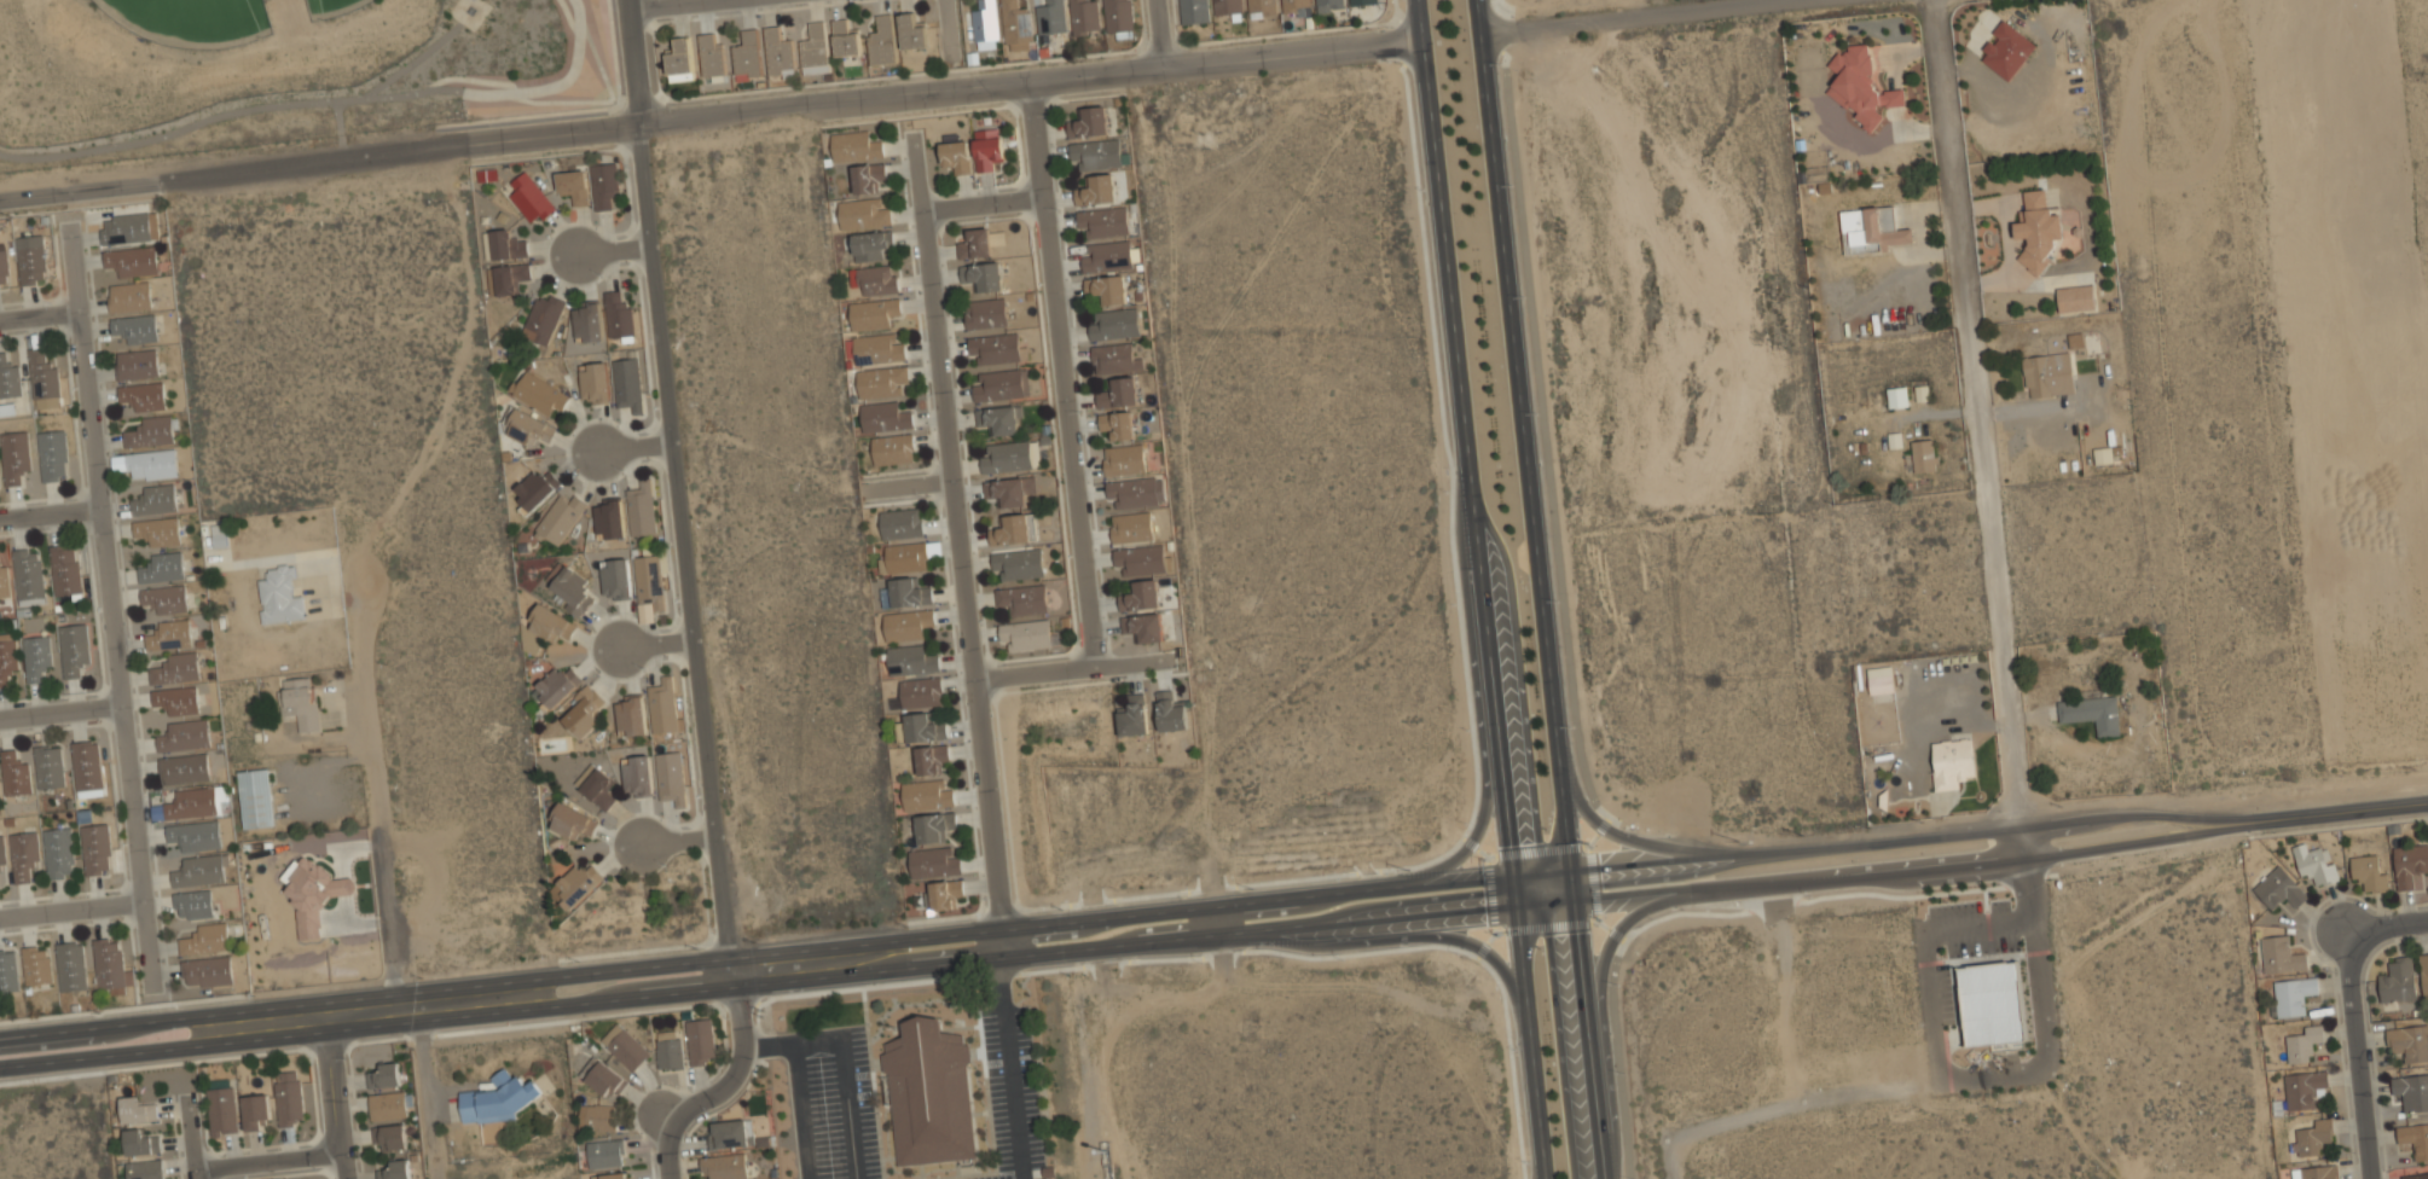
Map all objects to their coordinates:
building: (1362, 1)
road: (683, 5)
building: (1329, 5)
building: (1227, 6)
building: (1262, 6)
building: (1294, 6)
park: (331, 7)
building: (1194, 11)
road: (954, 16)
building: (1118, 16)
building: (1049, 17)
building: (1084, 17)
road: (1644, 17)
park: (191, 18)
building: (985, 22)
building: (1016, 24)
building: (912, 30)
road: (1164, 33)
building: (845, 37)
building: (882, 40)
building: (815, 48)
building: (2006, 48)
building: (778, 52)
building: (712, 56)
building: (747, 56)
building: (679, 59)
road: (634, 62)
park: (278, 63)
building: (1861, 83)
road: (324, 103)
road: (709, 116)
building: (1090, 121)
building: (854, 146)
building: (987, 146)
building: (956, 153)
building: (1095, 153)
building: (865, 175)
building: (573, 184)
building: (604, 185)
building: (1096, 188)
building: (529, 197)
road: (984, 204)
building: (864, 213)
building: (1103, 221)
building: (124, 227)
building: (1873, 228)
building: (2039, 228)
building: (975, 243)
building: (870, 244)
building: (506, 245)
road: (615, 250)
building: (1107, 256)
building: (31, 259)
building: (132, 261)
building: (4, 268)
building: (983, 274)
building: (510, 278)
building: (877, 279)
building: (1107, 288)
building: (129, 297)
building: (2076, 297)
building: (871, 312)
building: (985, 312)
building: (618, 313)
building: (543, 318)
road: (42, 320)
building: (586, 323)
building: (1113, 323)
building: (137, 330)
building: (2075, 339)
building: (995, 347)
building: (877, 348)
building: (1114, 358)
building: (137, 365)
road: (1064, 372)
building: (2049, 373)
building: (42, 377)
building: (8, 378)
building: (881, 381)
building: (595, 382)
building: (627, 383)
building: (1001, 384)
building: (539, 391)
building: (1118, 391)
building: (1897, 395)
building: (141, 397)
building: (883, 416)
building: (998, 419)
building: (1117, 423)
building: (528, 428)
road: (1970, 430)
building: (151, 432)
road: (639, 448)
building: (893, 448)
building: (15, 454)
building: (52, 454)
building: (1924, 454)
building: (2103, 454)
building: (1008, 455)
building: (1124, 460)
building: (150, 465)
building: (535, 488)
building: (1009, 489)
building: (1135, 493)
building: (153, 500)
building: (642, 509)
road: (53, 516)
building: (560, 517)
building: (608, 521)
building: (900, 522)
building: (1130, 527)
building: (1014, 528)
building: (158, 530)
road: (688, 556)
building: (904, 557)
road: (961, 558)
building: (1142, 559)
building: (1019, 562)
building: (162, 567)
building: (65, 573)
building: (28, 575)
building: (5, 580)
building: (615, 580)
building: (649, 581)
road: (1540, 588)
road: (1479, 589)
building: (572, 591)
building: (904, 591)
building: (1141, 594)
building: (279, 596)
building: (164, 598)
building: (1022, 598)
road: (1561, 600)
road: (116, 609)
building: (550, 622)
building: (906, 623)
building: (1143, 626)
building: (1025, 633)
building: (169, 634)
road: (660, 645)
building: (73, 647)
building: (35, 657)
building: (6, 658)
building: (910, 658)
road: (1079, 667)
building: (175, 668)
building: (1881, 679)
building: (556, 685)
building: (920, 691)
building: (176, 699)
building: (301, 701)
building: (662, 704)
building: (584, 710)
road: (63, 712)
building: (1170, 712)
road: (1480, 712)
building: (2091, 712)
building: (631, 714)
building: (1132, 715)
building: (920, 727)
building: (184, 734)
building: (929, 757)
building: (1952, 761)
building: (87, 767)
building: (48, 768)
building: (184, 768)
building: (15, 774)
building: (637, 774)
building: (671, 777)
road: (376, 780)
building: (597, 786)
building: (926, 794)
building: (255, 797)
building: (197, 802)
road: (2376, 806)
building: (574, 821)
building: (933, 825)
building: (195, 836)
road: (1624, 837)
road: (683, 842)
building: (95, 849)
building: (58, 853)
building: (23, 856)
building: (933, 861)
building: (2314, 864)
building: (2410, 864)
building: (1, 866)
building: (199, 870)
traffic signals: (1572, 872)
building: (2369, 872)
traffic signals: (1513, 877)
building: (578, 883)
building: (2278, 888)
building: (944, 893)
building: (312, 894)
traffic signals: (1576, 902)
building: (192, 904)
road: (74, 907)
traffic signals: (1517, 907)
road: (1160, 912)
road: (1218, 923)
road: (2384, 924)
building: (205, 937)
road: (1396, 941)
road: (1164, 943)
building: (2281, 954)
building: (36, 968)
building: (70, 968)
building: (110, 968)
building: (207, 970)
building: (7, 972)
building: (2424, 972)
building: (2398, 980)
building: (2291, 995)
building: (1992, 1003)
road: (1607, 1012)
building: (700, 1041)
building: (2409, 1041)
building: (2302, 1044)
building: (627, 1050)
building: (668, 1051)
road: (2355, 1053)
road: (844, 1057)
road: (1012, 1070)
road: (731, 1071)
building: (384, 1075)
building: (605, 1080)
road: (427, 1082)
building: (2301, 1090)
building: (2411, 1090)
road: (334, 1091)
building: (929, 1092)
parking lot: (1012, 1094)
building: (288, 1097)
building: (503, 1097)
parking lot: (833, 1103)
building: (389, 1107)
building: (137, 1109)
building: (221, 1110)
road: (800, 1110)
building: (255, 1111)
building: (597, 1117)
building: (731, 1133)
building: (2313, 1137)
building: (390, 1138)
building: (2413, 1139)
building: (140, 1142)
road: (190, 1142)
road: (668, 1150)
building: (605, 1152)
road: (267, 1165)
building: (724, 1166)
building: (145, 1168)
building: (394, 1171)
building: (2314, 1172)
building: (614, 1175)
building: (2415, 1177)

